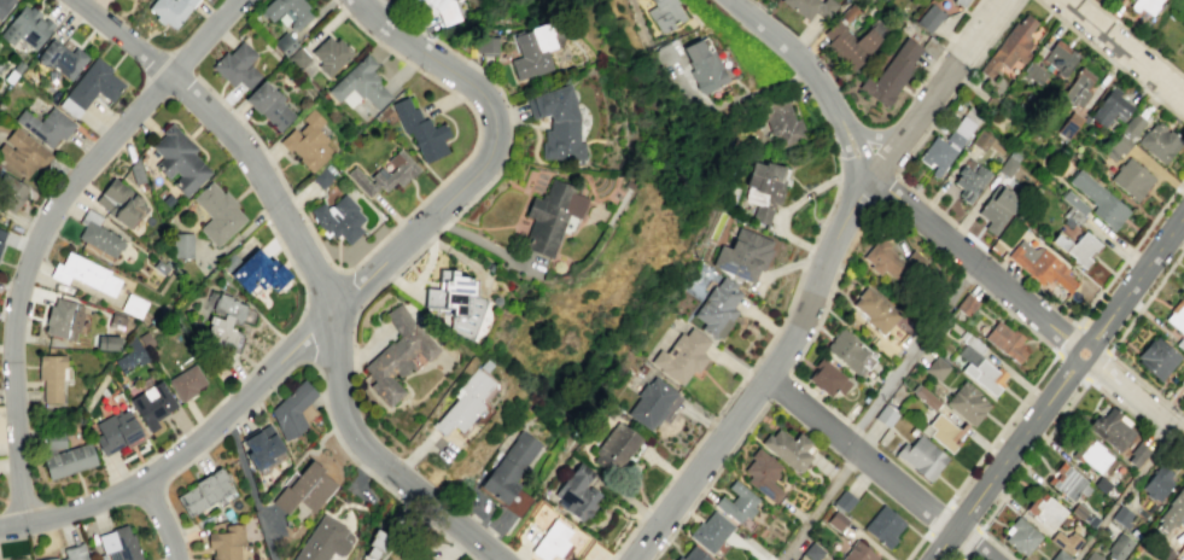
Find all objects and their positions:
building: (958, 2)
building: (4, 4)
building: (1143, 5)
building: (810, 7)
building: (288, 10)
building: (171, 11)
building: (441, 11)
building: (847, 12)
building: (666, 13)
building: (928, 18)
building: (27, 24)
road: (1149, 28)
road: (981, 30)
road: (1137, 39)
building: (285, 41)
building: (848, 43)
building: (485, 46)
road: (945, 46)
building: (532, 47)
building: (1009, 47)
road: (789, 48)
road: (1122, 49)
building: (332, 52)
building: (63, 56)
building: (299, 57)
building: (1060, 58)
road: (1109, 60)
building: (238, 63)
building: (705, 65)
building: (14, 69)
building: (1031, 72)
building: (891, 74)
building: (362, 81)
building: (92, 84)
building: (1077, 86)
building: (1027, 98)
road: (931, 99)
building: (269, 100)
building: (1109, 107)
building: (558, 118)
building: (782, 122)
building: (46, 123)
building: (1067, 124)
building: (1131, 126)
building: (422, 128)
building: (958, 132)
road: (922, 133)
road: (232, 134)
road: (865, 135)
building: (309, 139)
building: (980, 139)
building: (1157, 141)
road: (852, 142)
building: (1116, 146)
building: (24, 151)
road: (887, 154)
building: (935, 154)
building: (180, 158)
building: (1007, 163)
building: (386, 171)
road: (838, 174)
building: (322, 176)
building: (1131, 179)
building: (968, 180)
road: (797, 181)
road: (786, 182)
building: (764, 188)
road: (883, 188)
building: (11, 192)
road: (809, 193)
building: (169, 198)
building: (121, 200)
building: (1097, 200)
building: (1073, 202)
road: (792, 205)
building: (996, 208)
building: (218, 211)
road: (811, 212)
road: (827, 212)
building: (550, 216)
building: (1071, 216)
building: (340, 217)
road: (398, 222)
road: (42, 228)
road: (855, 229)
building: (1, 232)
building: (98, 232)
road: (479, 240)
building: (185, 244)
road: (811, 247)
building: (1075, 249)
road: (1130, 253)
building: (742, 255)
road: (807, 255)
building: (892, 259)
road: (973, 259)
road: (804, 262)
building: (1040, 264)
building: (161, 266)
road: (787, 267)
building: (259, 268)
building: (1183, 270)
building: (84, 272)
road: (966, 276)
building: (1182, 280)
road: (1136, 281)
road: (791, 297)
road: (344, 298)
road: (1145, 299)
building: (456, 302)
building: (134, 303)
building: (966, 304)
building: (717, 308)
building: (874, 310)
building: (63, 316)
road: (1015, 316)
building: (1176, 316)
building: (117, 319)
building: (222, 321)
road: (763, 322)
road: (1073, 323)
road: (776, 331)
building: (146, 338)
road: (1068, 339)
road: (1091, 339)
building: (107, 340)
building: (1005, 340)
building: (1179, 344)
road: (1072, 348)
building: (845, 349)
road: (910, 351)
road: (798, 352)
building: (132, 354)
building: (397, 354)
building: (682, 356)
building: (1156, 357)
road: (1091, 360)
road: (1096, 364)
building: (937, 366)
road: (1071, 366)
building: (52, 374)
road: (768, 375)
building: (984, 375)
building: (1183, 375)
building: (826, 378)
building: (187, 380)
road: (1145, 384)
building: (926, 397)
road: (1138, 398)
building: (153, 402)
building: (465, 402)
building: (652, 402)
building: (966, 403)
road: (1069, 404)
building: (291, 410)
building: (885, 415)
road: (229, 425)
road: (1001, 427)
road: (855, 428)
building: (1110, 428)
building: (116, 430)
building: (940, 432)
building: (54, 438)
road: (337, 438)
road: (868, 441)
building: (261, 445)
building: (617, 448)
road: (692, 448)
building: (789, 448)
building: (1137, 455)
building: (920, 456)
building: (1093, 456)
road: (380, 457)
building: (69, 459)
road: (1005, 460)
building: (509, 466)
road: (877, 468)
building: (764, 474)
building: (1065, 480)
road: (164, 484)
building: (1102, 484)
building: (1155, 484)
road: (250, 486)
building: (303, 488)
building: (203, 491)
building: (577, 492)
road: (1124, 494)
building: (846, 498)
building: (737, 501)
road: (817, 506)
building: (1173, 508)
building: (1044, 511)
building: (1078, 511)
building: (1120, 515)
building: (836, 519)
road: (162, 520)
building: (883, 526)
road: (973, 527)
building: (711, 530)
building: (1021, 536)
building: (323, 541)
building: (550, 541)
building: (1063, 541)
building: (226, 542)
building: (119, 543)
building: (374, 544)
road: (917, 544)
road: (993, 544)
building: (1116, 547)
building: (813, 550)
building: (857, 552)
building: (1183, 552)
building: (74, 553)
building: (694, 554)
road: (956, 554)
road: (520, 555)
building: (1058, 555)
building: (1091, 555)
building: (422, 556)
building: (18, 559)
building: (48, 559)

